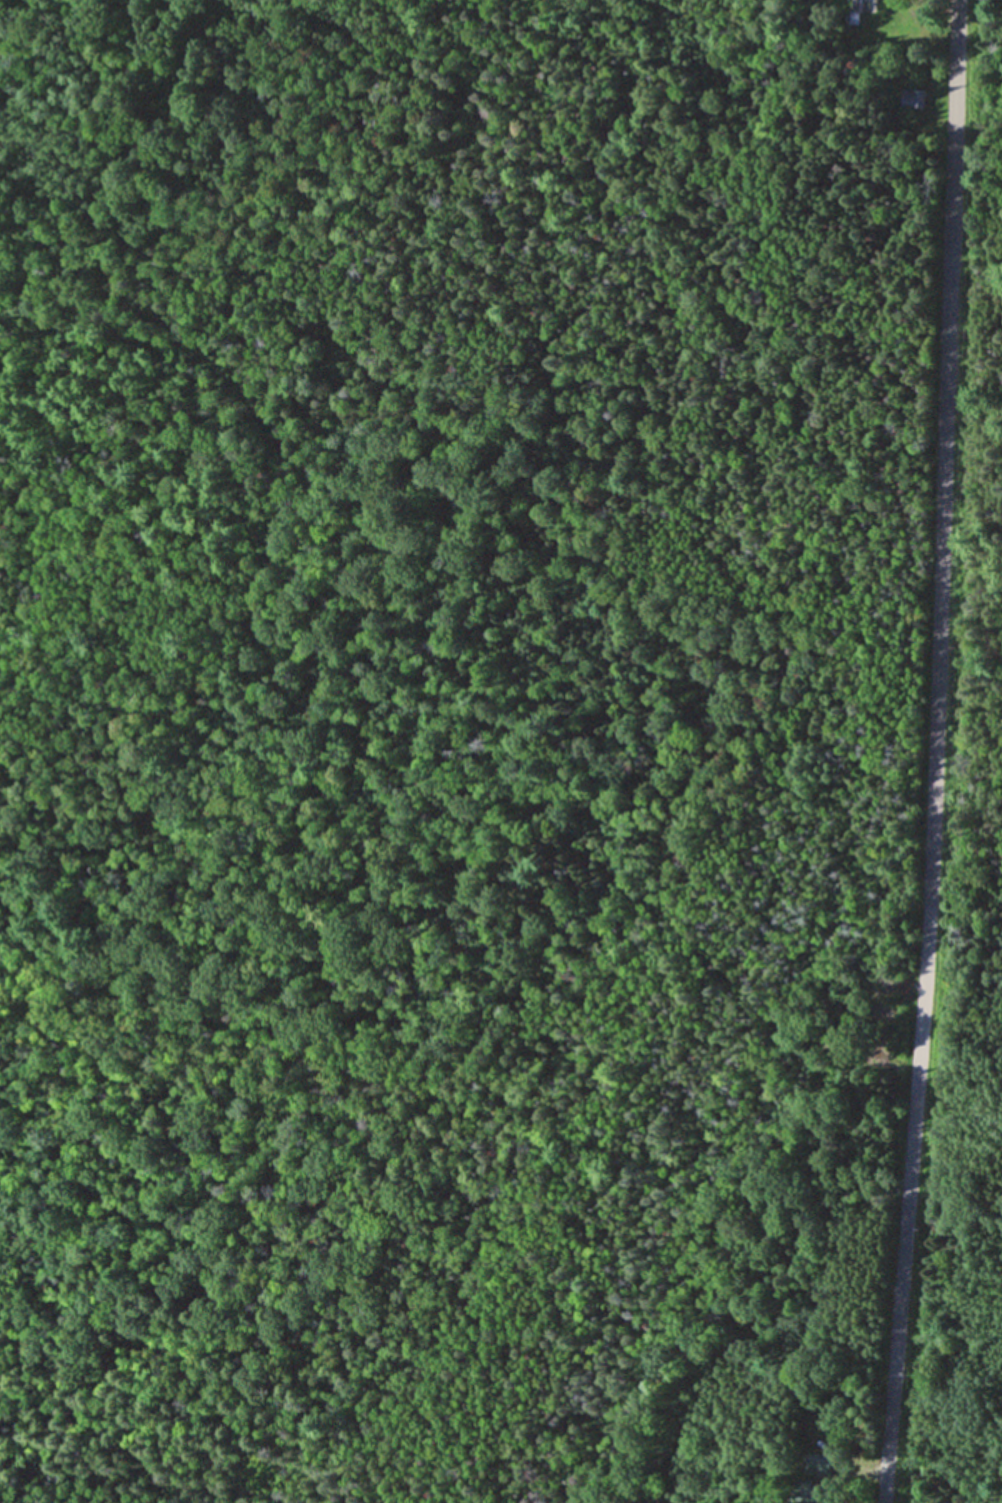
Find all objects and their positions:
building: (913, 99)
road: (938, 752)

